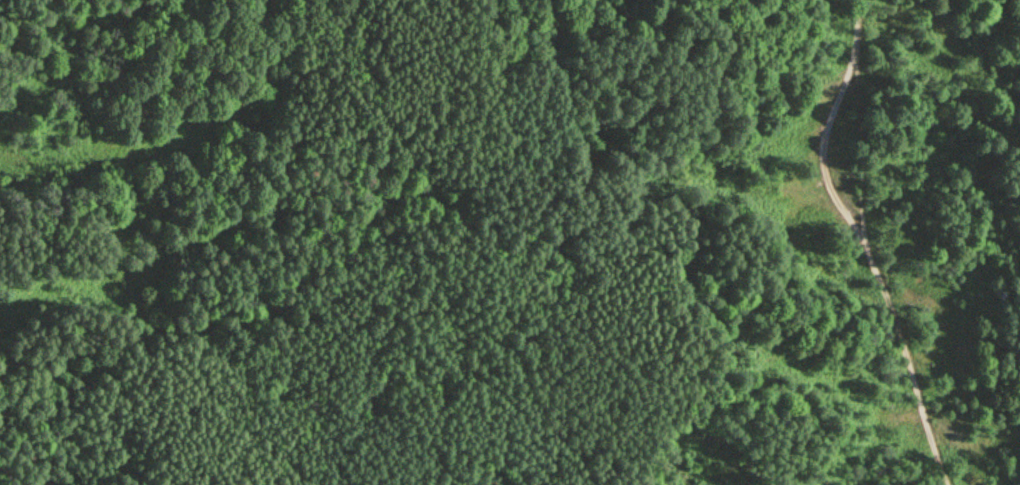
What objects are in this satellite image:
road: (268, 238)
road: (866, 239)
road: (689, 426)

